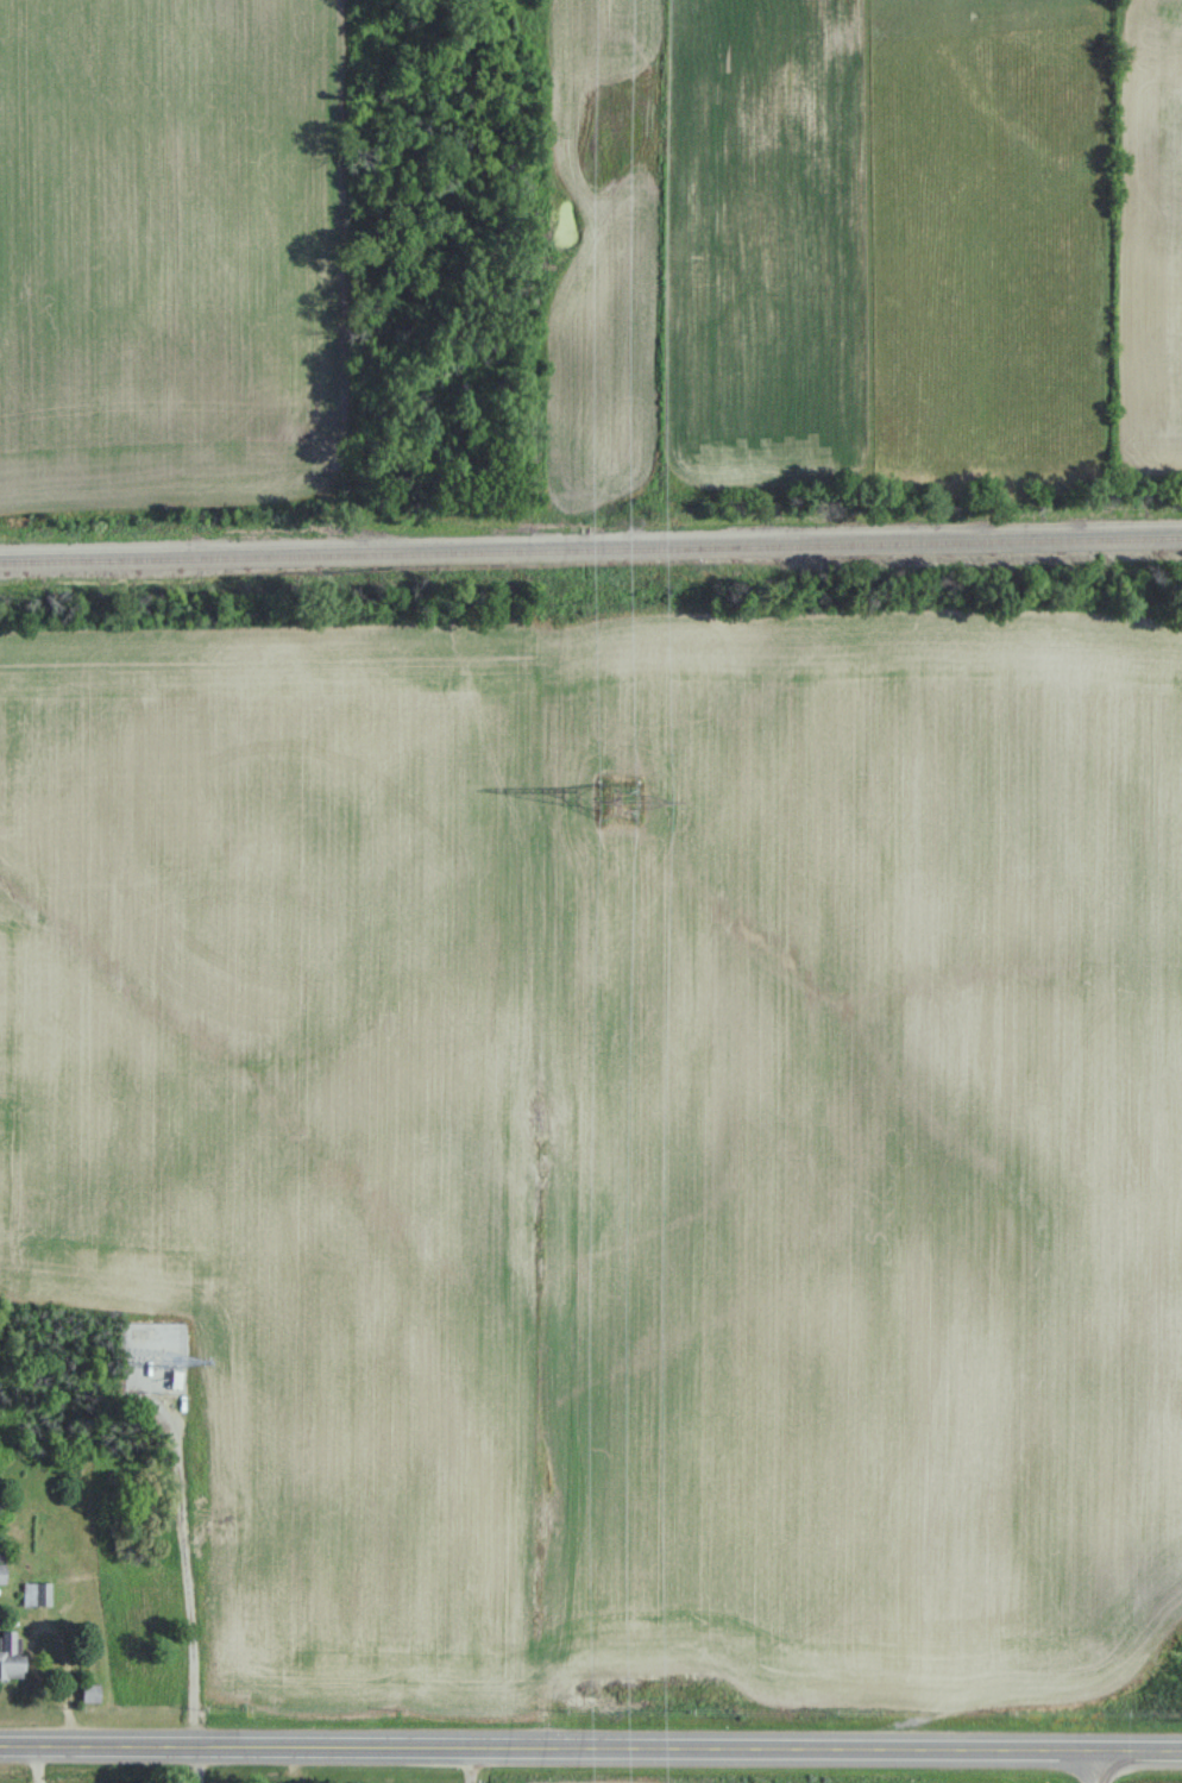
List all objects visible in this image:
railway: (591, 548)
power tower: (622, 798)
building: (36, 1591)
building: (11, 1655)
building: (90, 1690)
road: (590, 1746)
road: (1099, 1765)

